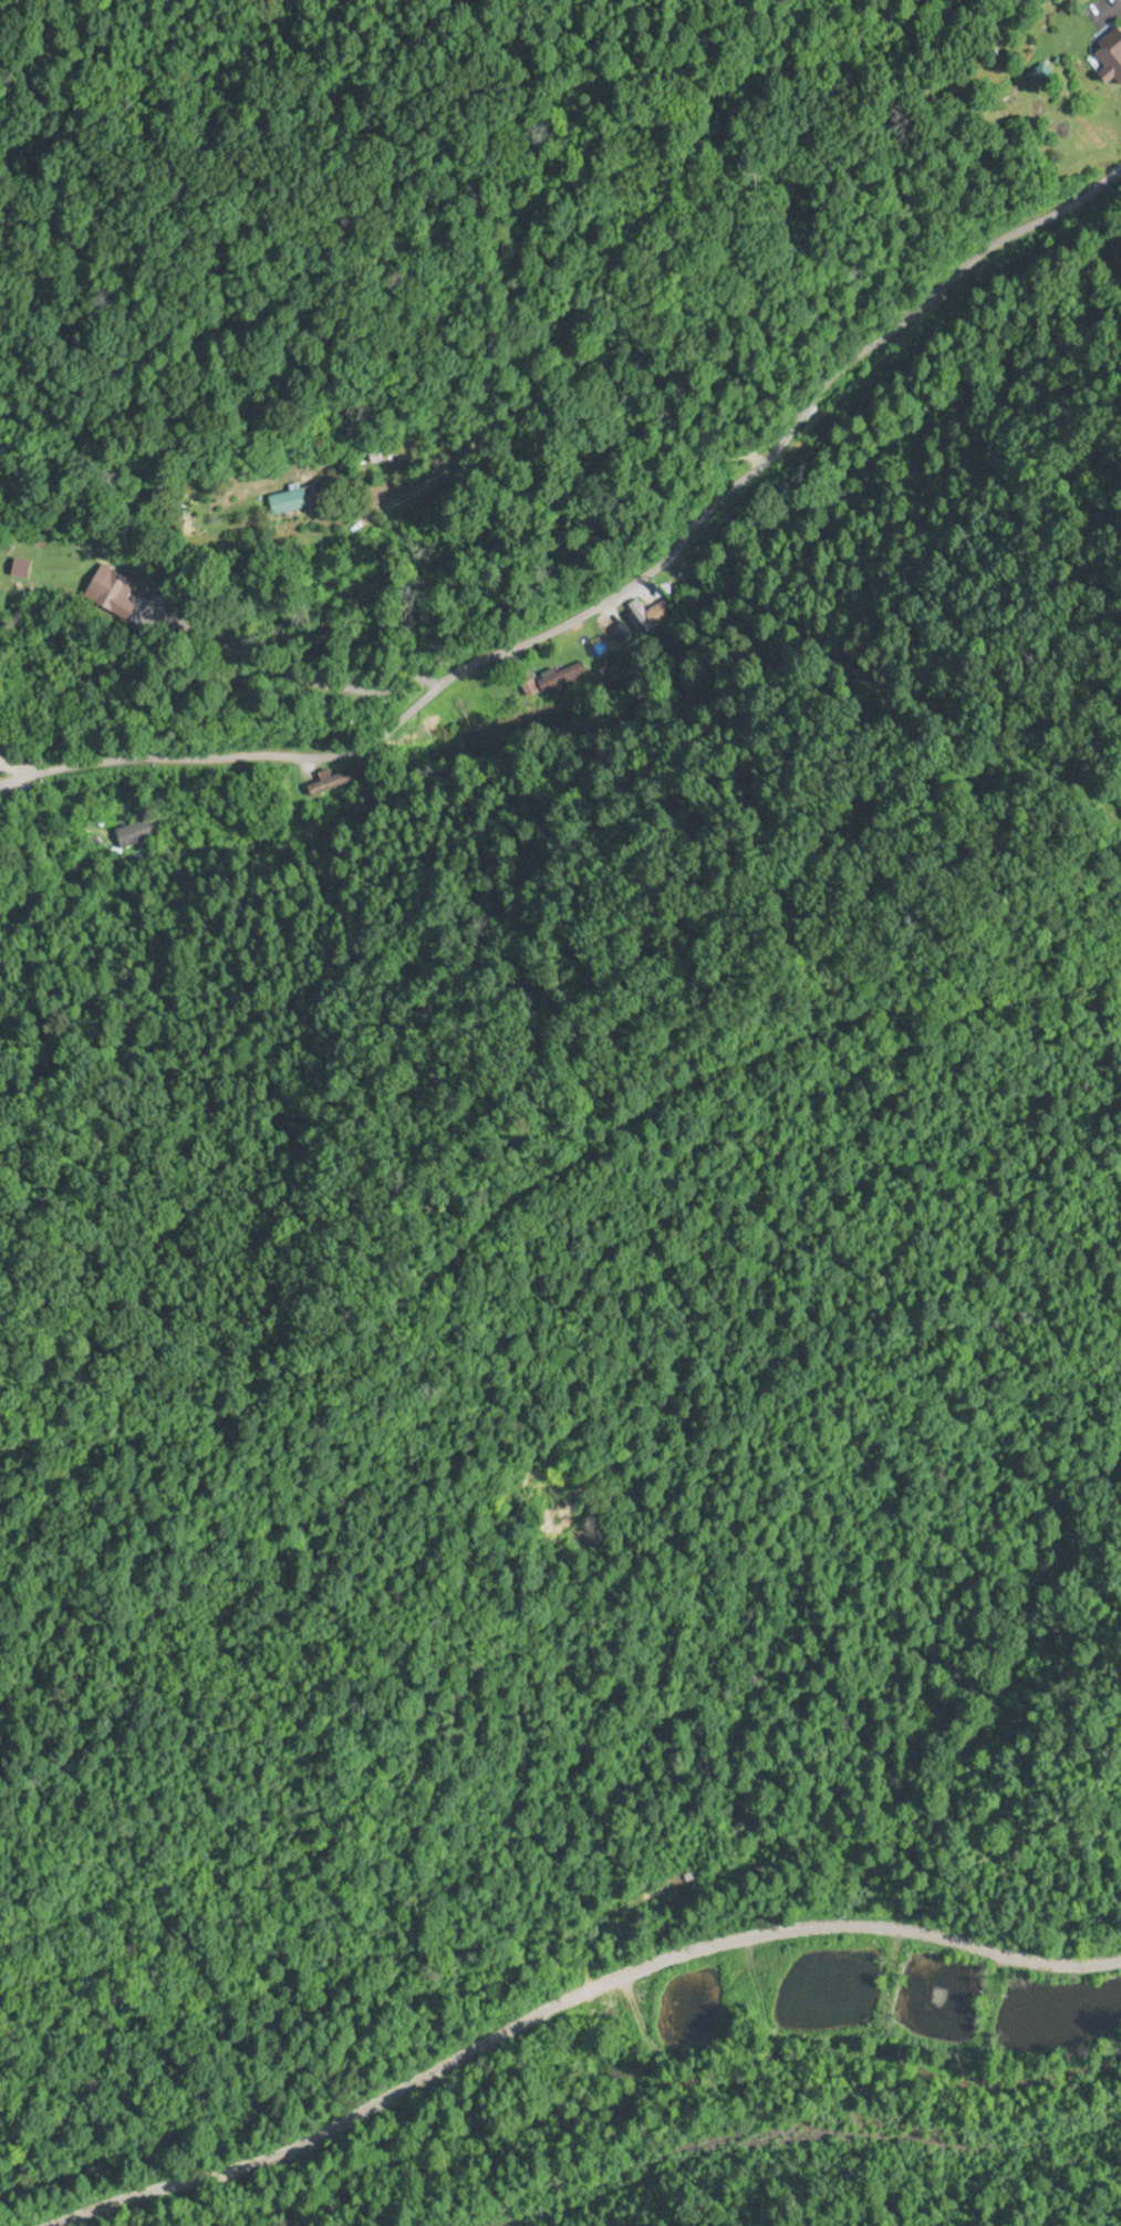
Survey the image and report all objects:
road: (757, 198)
road: (589, 397)
road: (621, 555)
road: (48, 564)
road: (547, 1972)

